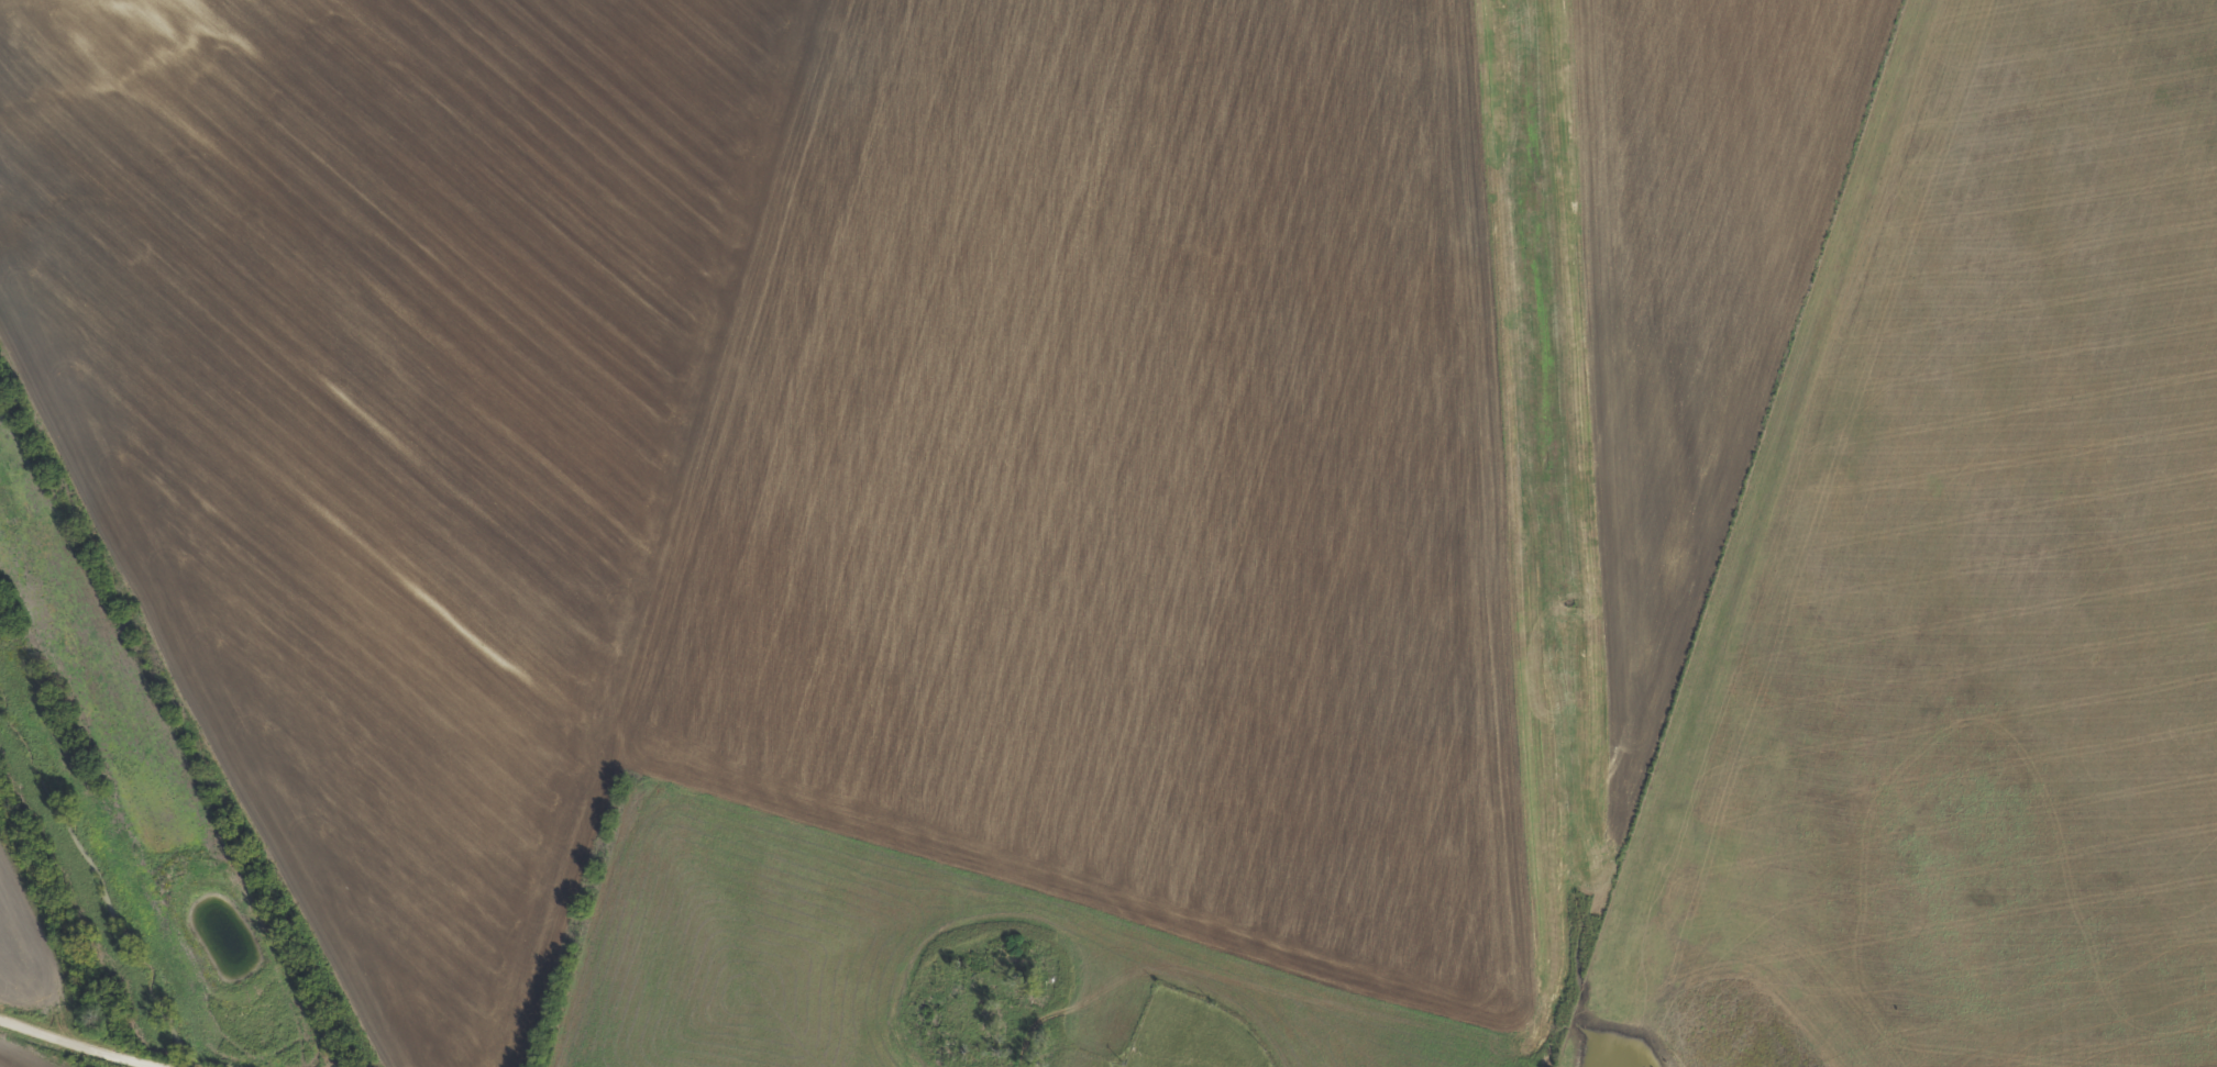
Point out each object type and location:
road: (87, 1049)

